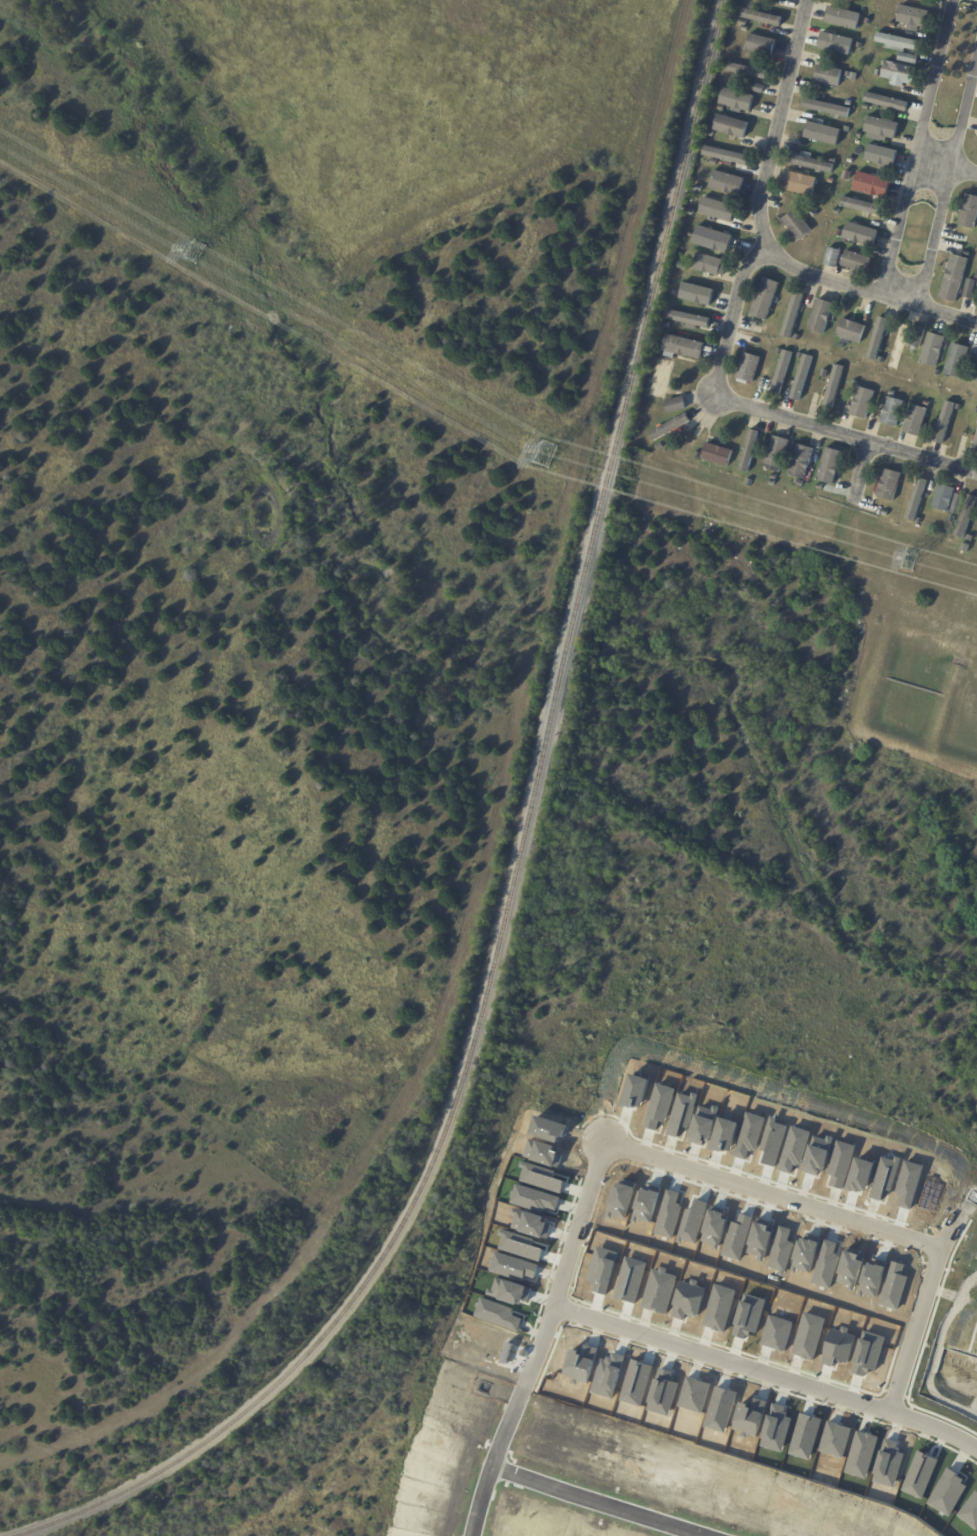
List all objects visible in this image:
building: (783, 0)
building: (859, 0)
building: (915, 17)
building: (762, 18)
building: (844, 18)
building: (868, 21)
building: (744, 23)
building: (893, 24)
building: (746, 29)
building: (899, 42)
building: (837, 43)
building: (762, 45)
building: (860, 46)
building: (909, 59)
building: (748, 70)
building: (879, 73)
building: (900, 73)
building: (849, 75)
building: (829, 76)
building: (755, 89)
building: (738, 101)
building: (887, 101)
building: (849, 103)
building: (827, 108)
building: (867, 108)
building: (730, 110)
building: (841, 126)
building: (732, 127)
building: (883, 128)
building: (822, 134)
building: (860, 135)
road: (917, 147)
building: (726, 155)
building: (882, 156)
building: (834, 161)
building: (852, 161)
building: (714, 162)
building: (811, 163)
road: (946, 164)
road: (946, 180)
building: (832, 181)
building: (728, 183)
building: (801, 184)
building: (872, 185)
building: (698, 189)
building: (713, 205)
building: (862, 206)
building: (837, 211)
building: (693, 212)
building: (970, 213)
building: (813, 214)
building: (797, 225)
building: (839, 234)
building: (862, 235)
building: (713, 240)
power tower: (194, 249)
building: (967, 254)
building: (834, 258)
building: (857, 262)
building: (683, 266)
building: (708, 266)
building: (954, 279)
building: (975, 280)
building: (970, 290)
road: (868, 291)
building: (674, 293)
building: (698, 295)
building: (765, 299)
railway: (647, 313)
building: (793, 316)
building: (822, 317)
building: (688, 318)
building: (755, 322)
building: (667, 325)
road: (728, 326)
building: (852, 332)
building: (797, 337)
building: (878, 339)
building: (920, 339)
building: (660, 346)
building: (684, 347)
building: (903, 347)
building: (933, 350)
building: (780, 351)
building: (800, 356)
building: (974, 358)
building: (882, 360)
building: (957, 361)
building: (749, 368)
building: (937, 373)
building: (782, 374)
building: (976, 377)
building: (802, 378)
building: (661, 379)
building: (855, 384)
building: (835, 387)
building: (892, 392)
building: (928, 395)
building: (863, 403)
building: (927, 404)
building: (676, 405)
building: (958, 407)
building: (976, 411)
building: (893, 412)
building: (916, 420)
building: (944, 423)
building: (670, 427)
building: (660, 446)
building: (975, 448)
building: (750, 451)
power tower: (547, 452)
building: (698, 454)
building: (777, 454)
building: (718, 455)
building: (802, 461)
building: (830, 466)
road: (860, 473)
building: (774, 476)
building: (748, 479)
building: (795, 482)
building: (773, 483)
building: (801, 484)
building: (888, 485)
building: (820, 487)
building: (944, 497)
building: (917, 501)
building: (878, 503)
building: (959, 503)
building: (966, 515)
building: (951, 520)
building: (970, 537)
power tower: (910, 559)
railway: (573, 635)
railway: (421, 1181)
road: (780, 1193)
road: (930, 1309)
road: (545, 1340)
road: (769, 1364)
road: (599, 1504)

